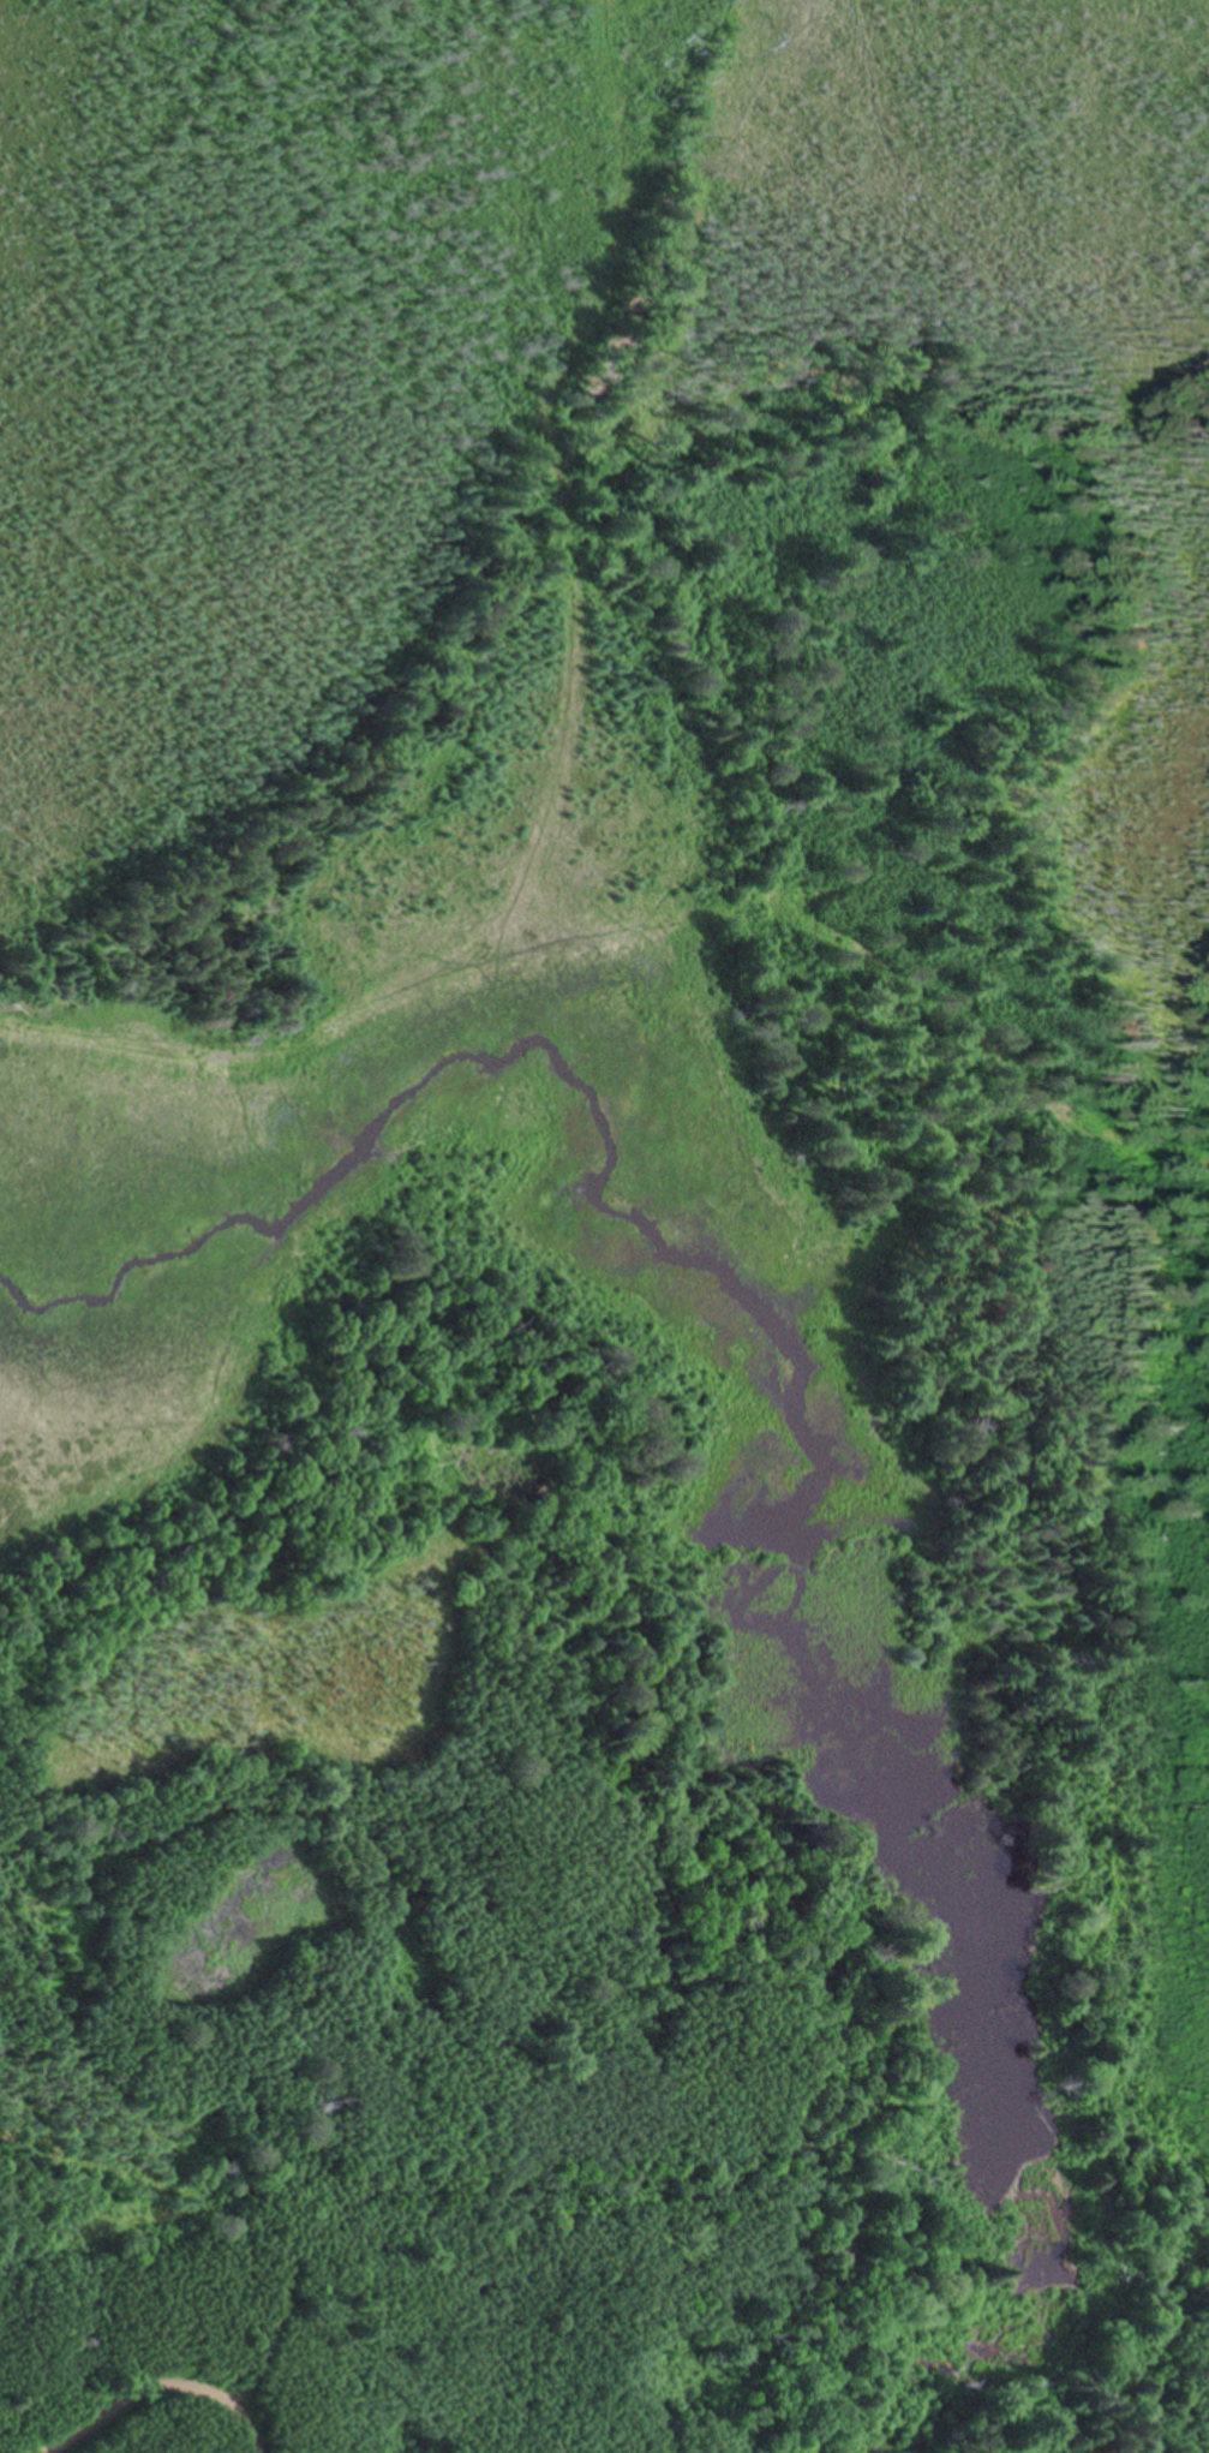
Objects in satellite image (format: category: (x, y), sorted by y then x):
road: (148, 2407)

